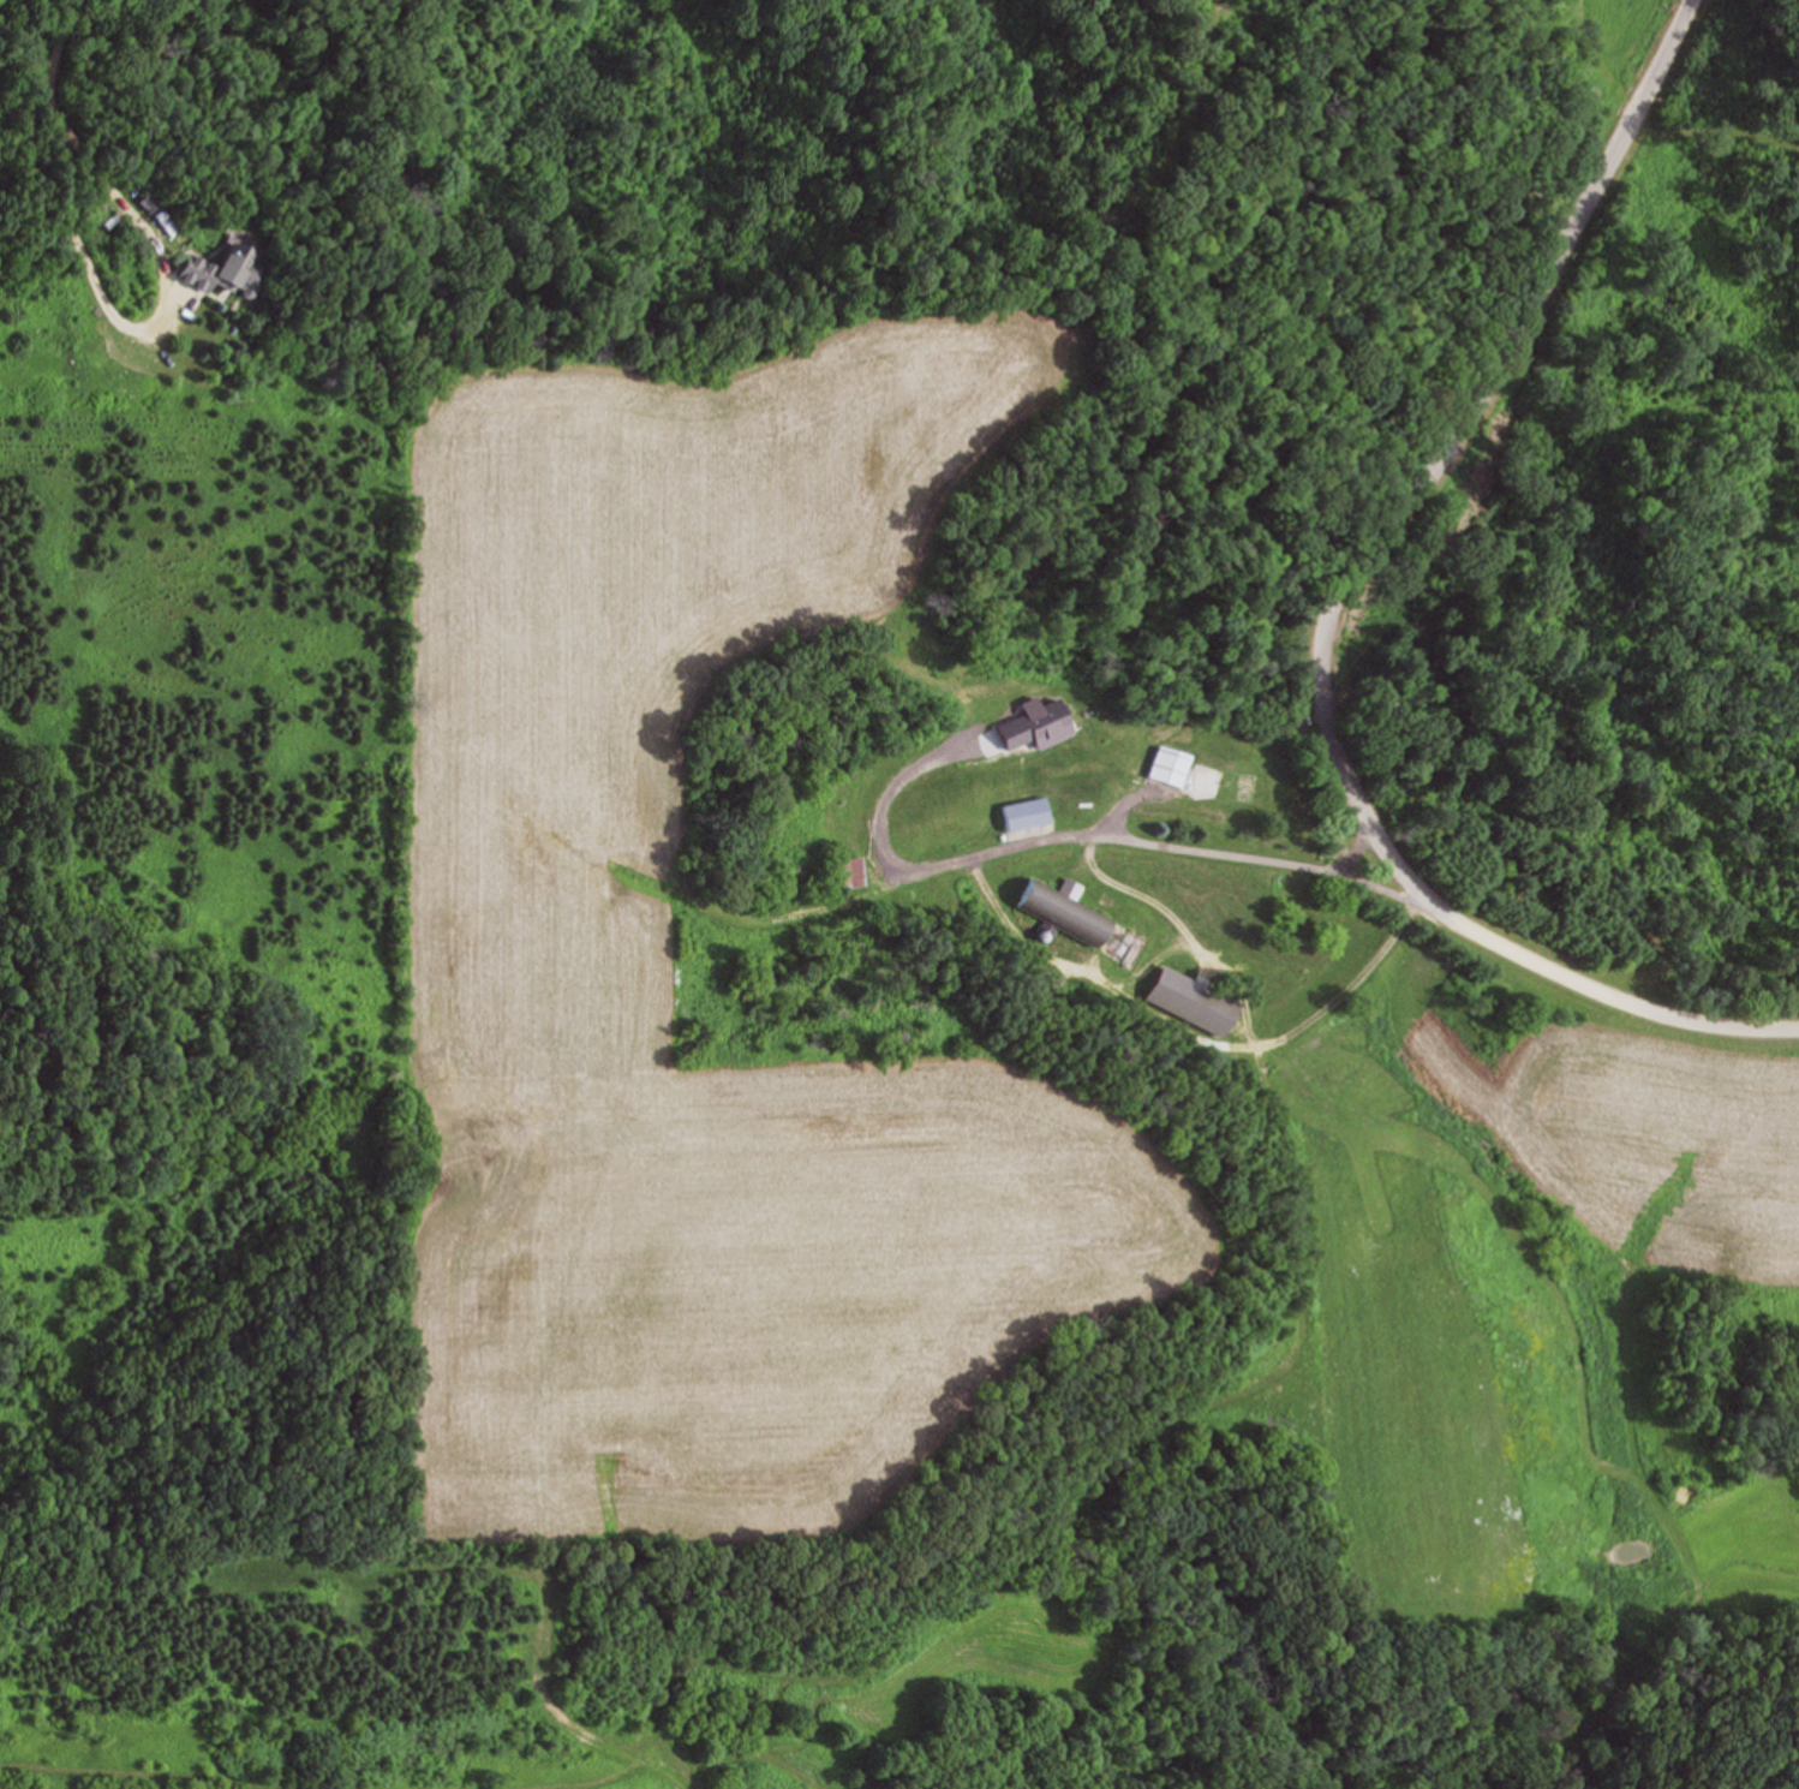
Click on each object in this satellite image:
crop: (1630, 42)
building: (213, 273)
road: (1337, 613)
building: (1189, 777)
building: (850, 785)
building: (1077, 803)
building: (1022, 813)
road: (1070, 833)
building: (791, 864)
building: (851, 872)
crop: (551, 885)
building: (1054, 907)
building: (1184, 1001)
crop: (1632, 1113)
crop: (1496, 1380)

